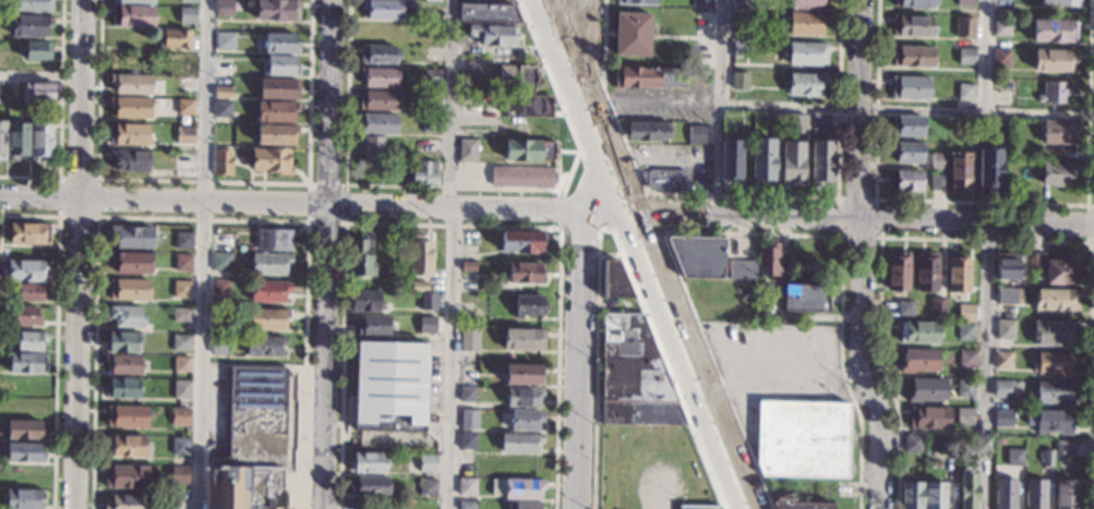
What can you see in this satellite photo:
building: (435, 0)
building: (187, 1)
building: (636, 1)
building: (135, 2)
building: (965, 2)
building: (1060, 2)
building: (704, 3)
building: (742, 3)
building: (914, 3)
building: (806, 4)
building: (32, 5)
building: (223, 8)
building: (382, 9)
building: (276, 10)
building: (493, 12)
building: (187, 15)
building: (132, 16)
building: (742, 19)
building: (807, 23)
building: (29, 25)
building: (912, 26)
building: (964, 26)
building: (1001, 27)
building: (1054, 31)
building: (493, 35)
building: (632, 35)
building: (175, 39)
building: (224, 40)
building: (279, 43)
road: (566, 46)
road: (581, 47)
building: (741, 49)
building: (36, 50)
building: (378, 54)
building: (807, 54)
building: (965, 56)
road: (983, 56)
building: (912, 57)
building: (1001, 58)
building: (1055, 60)
building: (280, 65)
building: (223, 68)
building: (429, 76)
building: (380, 77)
building: (518, 77)
building: (649, 77)
road: (41, 78)
building: (740, 80)
building: (131, 84)
building: (806, 84)
building: (185, 85)
building: (910, 87)
building: (228, 89)
building: (278, 89)
building: (39, 93)
building: (965, 93)
building: (1055, 93)
building: (378, 100)
building: (430, 101)
road: (449, 101)
road: (649, 101)
building: (529, 106)
building: (183, 107)
road: (718, 107)
building: (130, 108)
building: (221, 109)
road: (905, 110)
building: (276, 111)
building: (820, 121)
building: (377, 124)
building: (430, 124)
building: (909, 126)
building: (648, 131)
building: (1058, 132)
building: (696, 133)
building: (129, 134)
building: (276, 134)
building: (183, 135)
building: (2, 140)
building: (17, 140)
building: (40, 140)
building: (372, 147)
building: (467, 149)
road: (580, 150)
building: (530, 152)
road: (611, 152)
road: (593, 153)
building: (906, 153)
building: (1050, 154)
road: (665, 158)
building: (938, 159)
building: (129, 160)
building: (730, 160)
building: (762, 160)
building: (181, 161)
building: (269, 161)
building: (221, 162)
building: (792, 162)
building: (821, 162)
building: (989, 169)
building: (419, 171)
building: (959, 172)
building: (1058, 174)
building: (521, 177)
building: (665, 179)
building: (907, 182)
building: (937, 182)
road: (225, 198)
road: (516, 206)
road: (600, 208)
road: (865, 221)
building: (29, 233)
building: (130, 237)
road: (647, 237)
building: (182, 240)
building: (274, 240)
road: (629, 240)
building: (522, 242)
road: (80, 254)
road: (204, 254)
road: (326, 254)
building: (698, 255)
building: (420, 256)
road: (857, 256)
building: (360, 258)
building: (768, 260)
building: (131, 263)
building: (183, 263)
building: (220, 263)
building: (1037, 263)
building: (268, 264)
building: (467, 266)
building: (1007, 268)
building: (741, 269)
building: (26, 270)
building: (898, 272)
building: (926, 272)
building: (1058, 272)
building: (524, 274)
building: (958, 275)
building: (614, 281)
building: (468, 284)
building: (419, 287)
building: (769, 287)
building: (218, 288)
building: (129, 289)
building: (180, 290)
building: (268, 291)
building: (27, 292)
building: (1005, 296)
building: (805, 298)
building: (713, 299)
building: (1056, 300)
building: (364, 301)
building: (428, 302)
building: (527, 306)
building: (904, 306)
building: (937, 306)
building: (965, 314)
building: (181, 315)
building: (26, 316)
building: (125, 316)
building: (266, 318)
building: (426, 325)
building: (373, 326)
building: (1005, 329)
building: (965, 331)
building: (918, 332)
building: (1054, 332)
building: (468, 340)
building: (522, 340)
building: (28, 341)
building: (122, 341)
building: (180, 343)
building: (219, 344)
building: (264, 346)
road: (449, 355)
road: (578, 359)
building: (966, 359)
building: (1002, 360)
building: (918, 361)
building: (27, 363)
building: (123, 364)
building: (181, 364)
building: (1053, 364)
road: (990, 366)
building: (524, 374)
building: (634, 376)
building: (389, 380)
building: (1018, 385)
road: (698, 387)
building: (121, 388)
building: (965, 389)
building: (1002, 389)
building: (181, 390)
building: (927, 390)
building: (1054, 393)
building: (467, 395)
building: (522, 398)
building: (180, 416)
building: (254, 416)
building: (964, 416)
building: (127, 417)
building: (928, 417)
building: (1002, 419)
building: (468, 420)
building: (526, 420)
building: (1049, 421)
building: (25, 431)
building: (802, 439)
building: (467, 441)
building: (999, 441)
building: (912, 443)
building: (519, 444)
building: (950, 444)
building: (983, 444)
building: (128, 446)
building: (179, 447)
building: (1063, 448)
building: (24, 453)
building: (1014, 458)
building: (1046, 458)
building: (368, 463)
building: (428, 463)
building: (177, 474)
building: (125, 476)
building: (370, 486)
building: (245, 487)
building: (428, 487)
building: (466, 487)
building: (522, 488)
building: (967, 490)
building: (1005, 494)
building: (1035, 494)
building: (1065, 494)
building: (911, 495)
building: (935, 495)
building: (24, 499)
building: (122, 502)
building: (179, 502)
building: (466, 505)
building: (801, 505)
building: (524, 506)
building: (697, 507)

